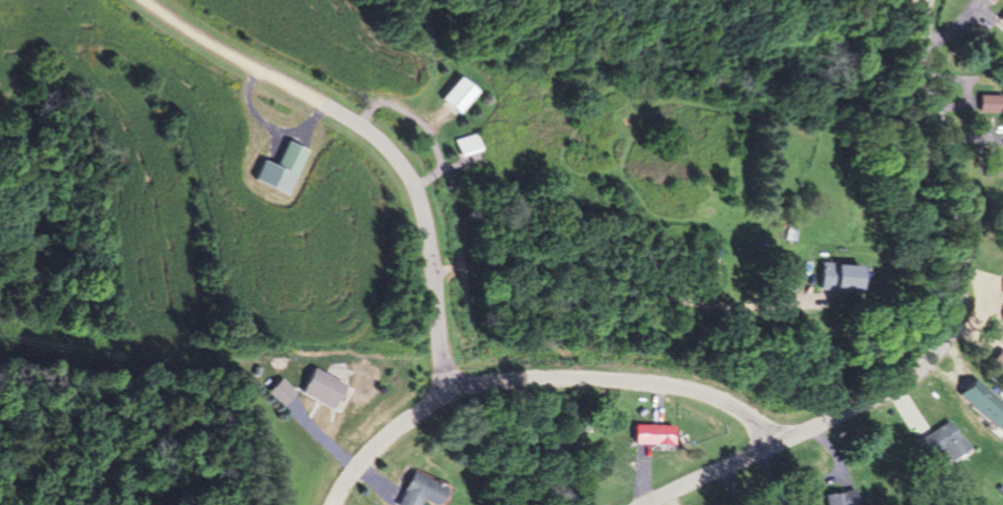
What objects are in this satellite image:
building: (991, 1)
building: (1001, 19)
building: (457, 94)
road: (378, 138)
building: (468, 144)
building: (281, 168)
building: (837, 276)
road: (624, 284)
road: (947, 341)
road: (541, 381)
building: (985, 404)
building: (654, 434)
building: (943, 441)
building: (422, 491)
building: (843, 498)

